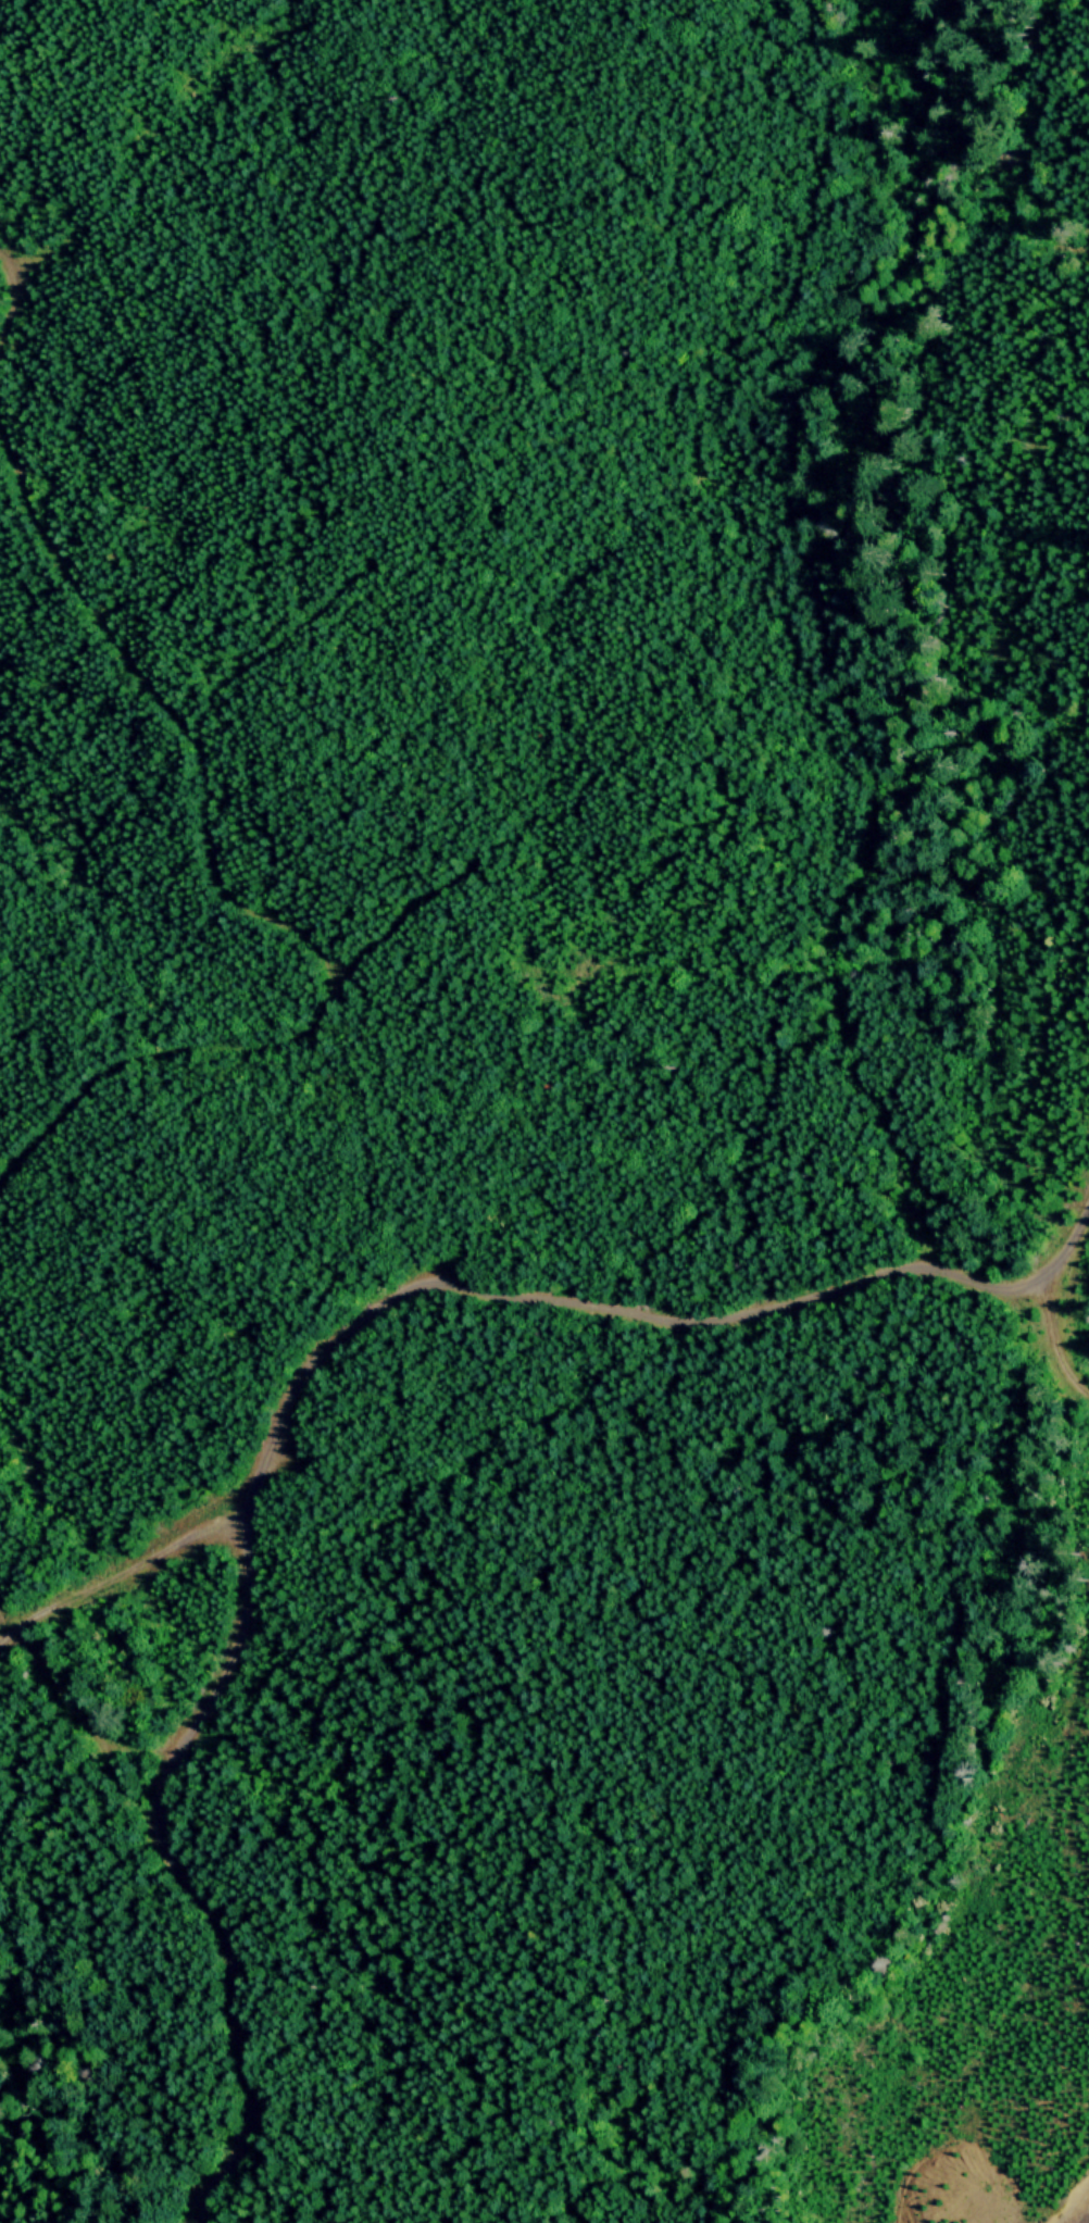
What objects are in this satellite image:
road: (202, 762)
road: (130, 1063)
road: (1069, 1246)
road: (748, 1301)
road: (125, 1566)
road: (237, 1625)
road: (8, 1632)
road: (61, 1695)
road: (777, 1763)
road: (235, 2113)

